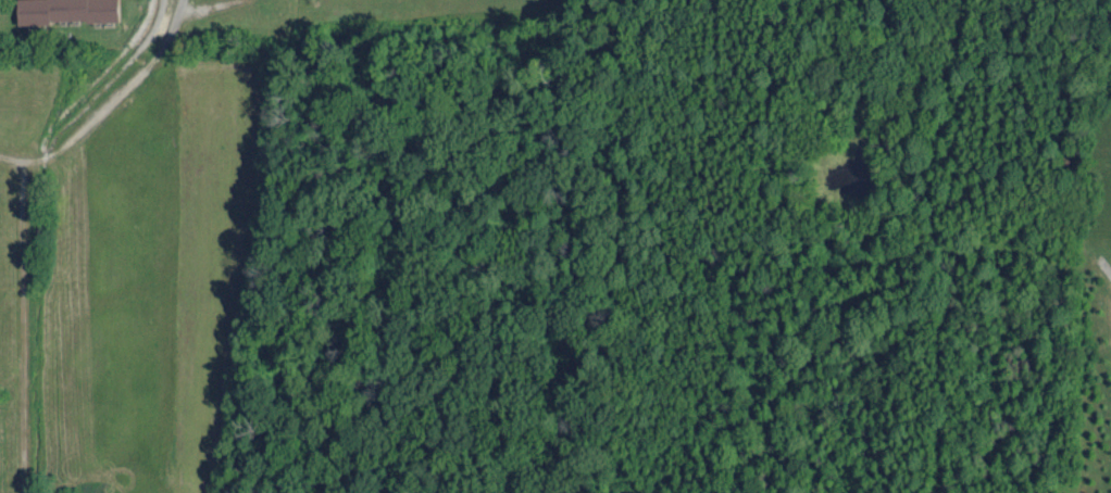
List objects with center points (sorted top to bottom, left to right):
building: (68, 10)

